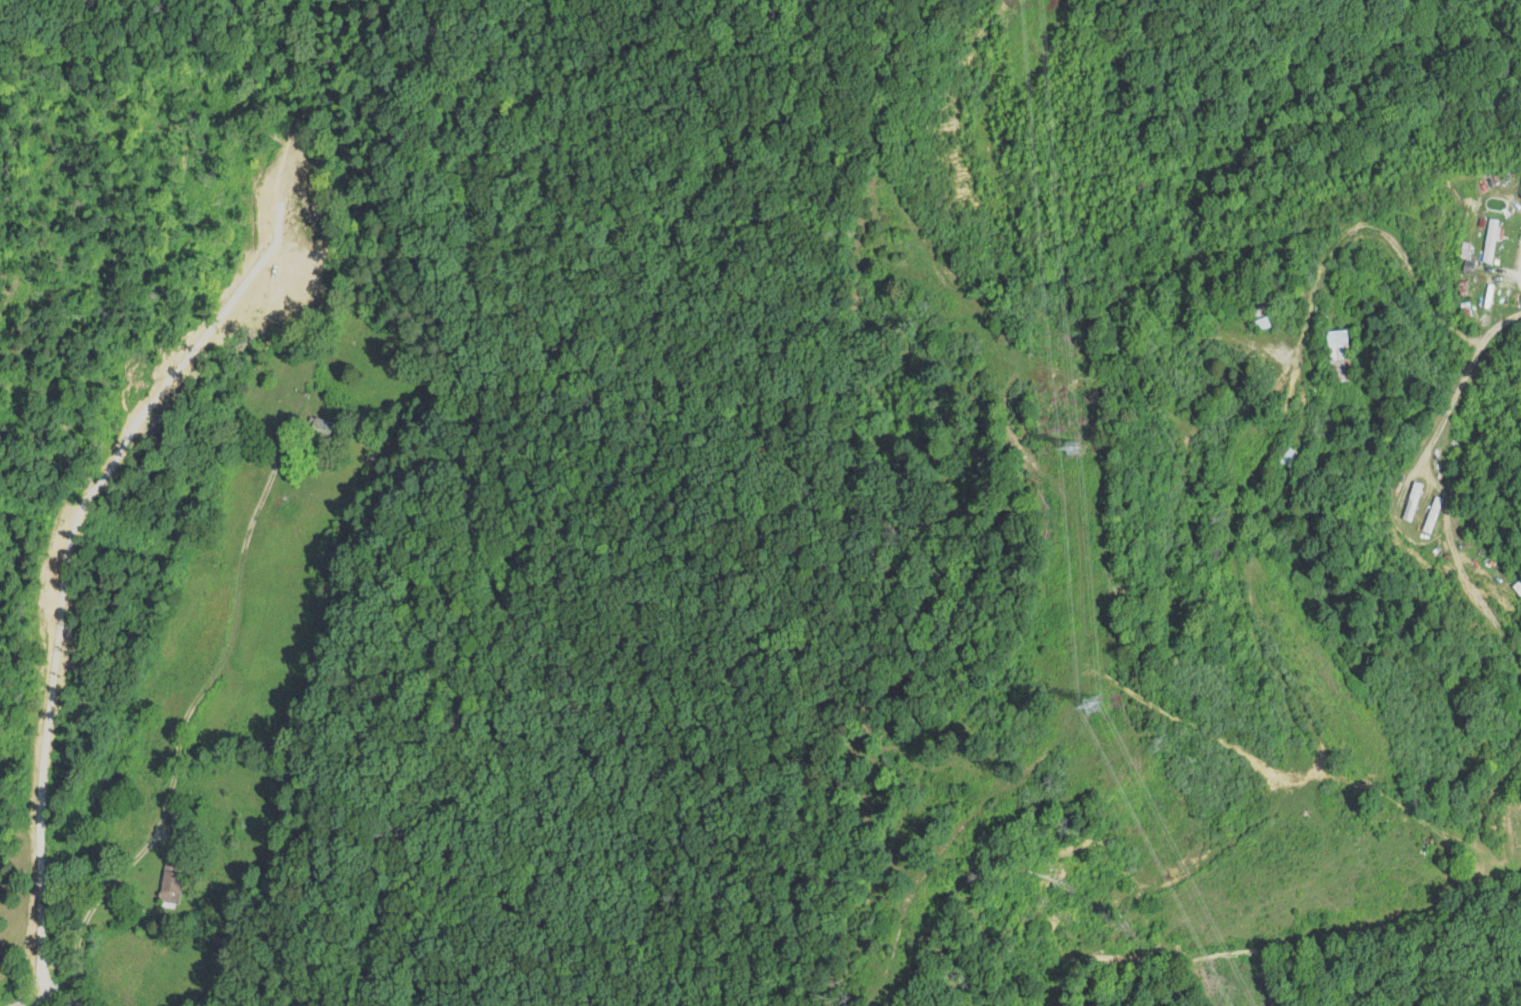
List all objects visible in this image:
building: (171, 886)

